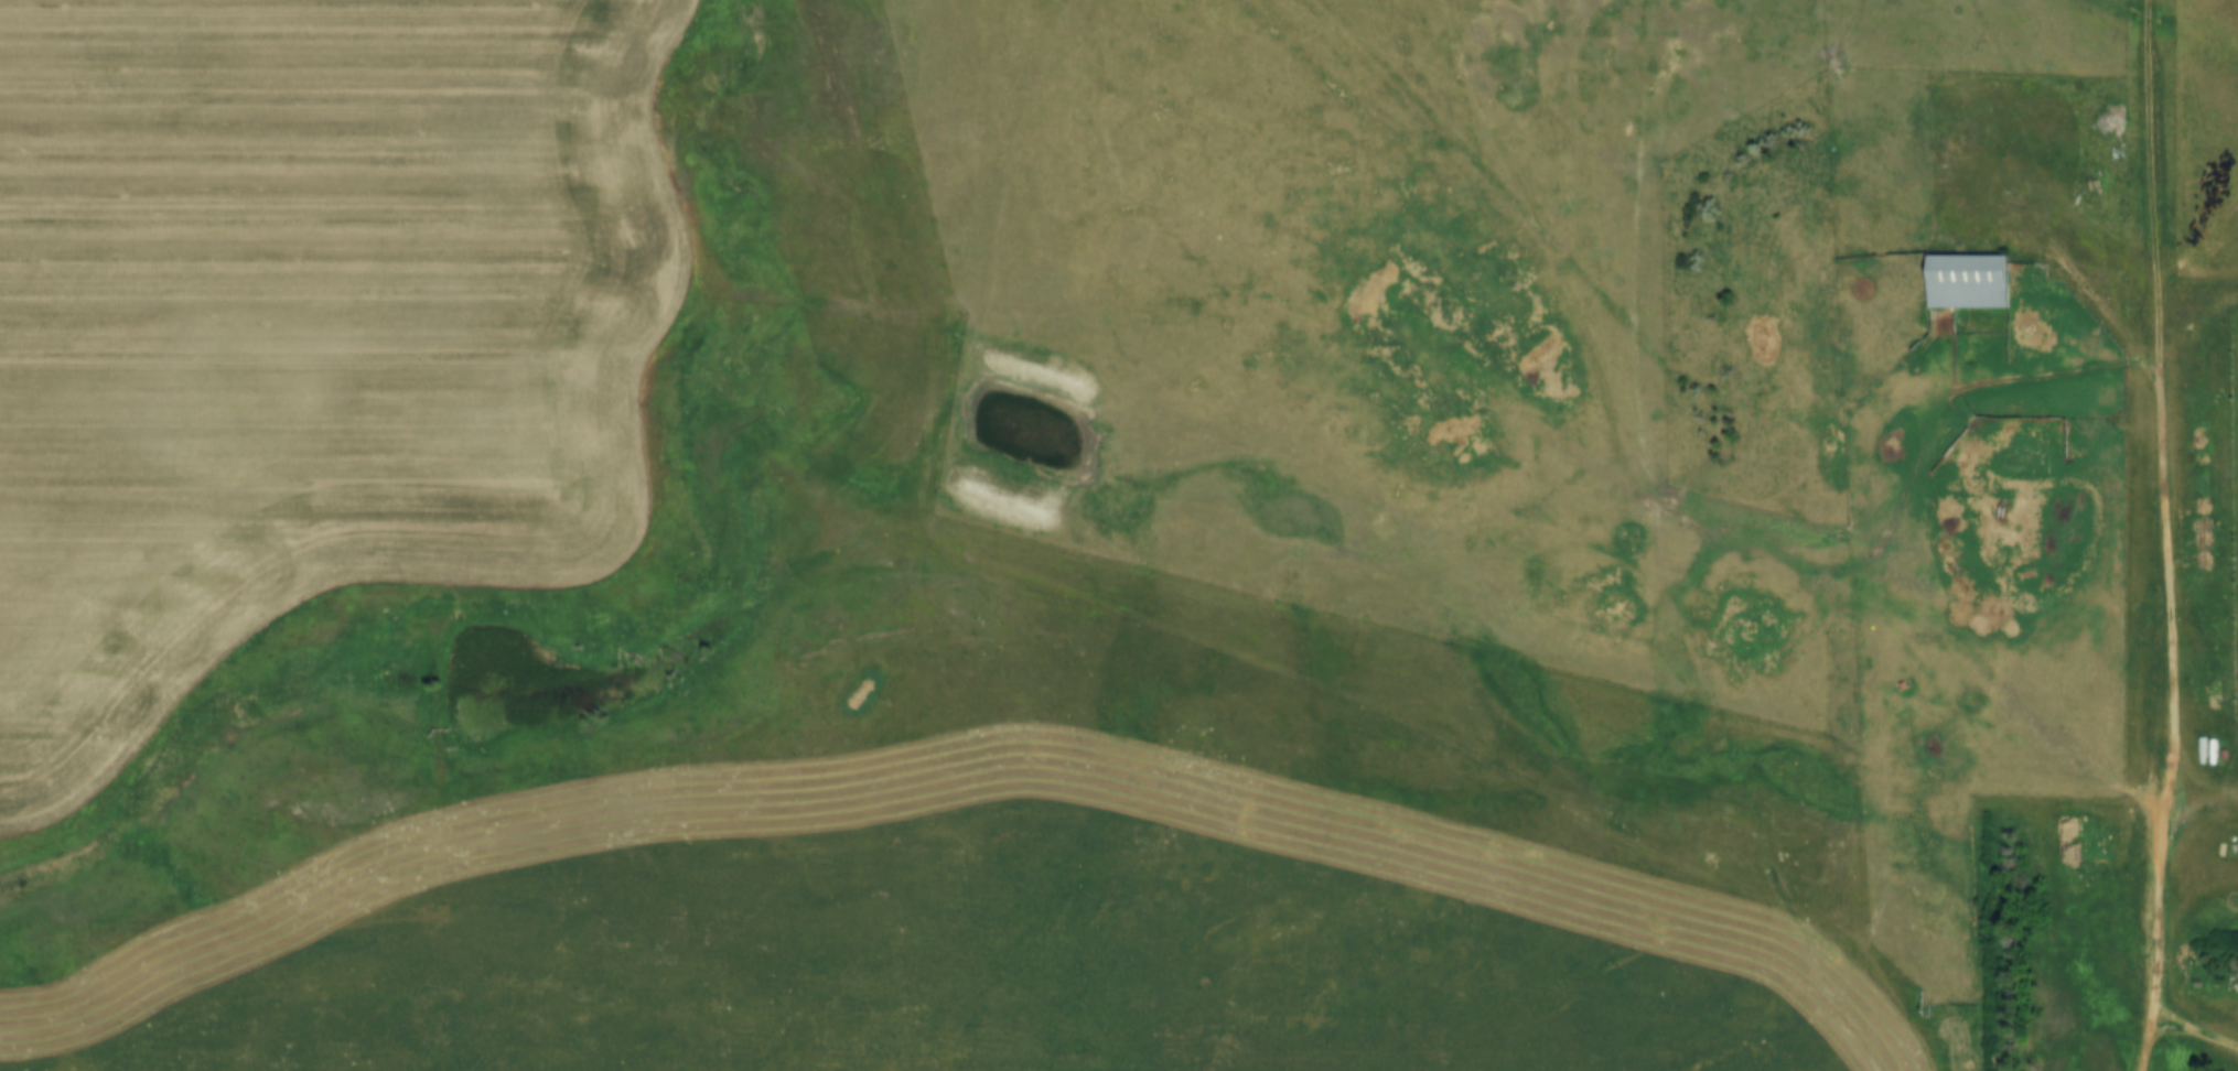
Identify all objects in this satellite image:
road: (2154, 191)
building: (1968, 280)
road: (2167, 582)
road: (2194, 1034)
road: (2146, 1049)

